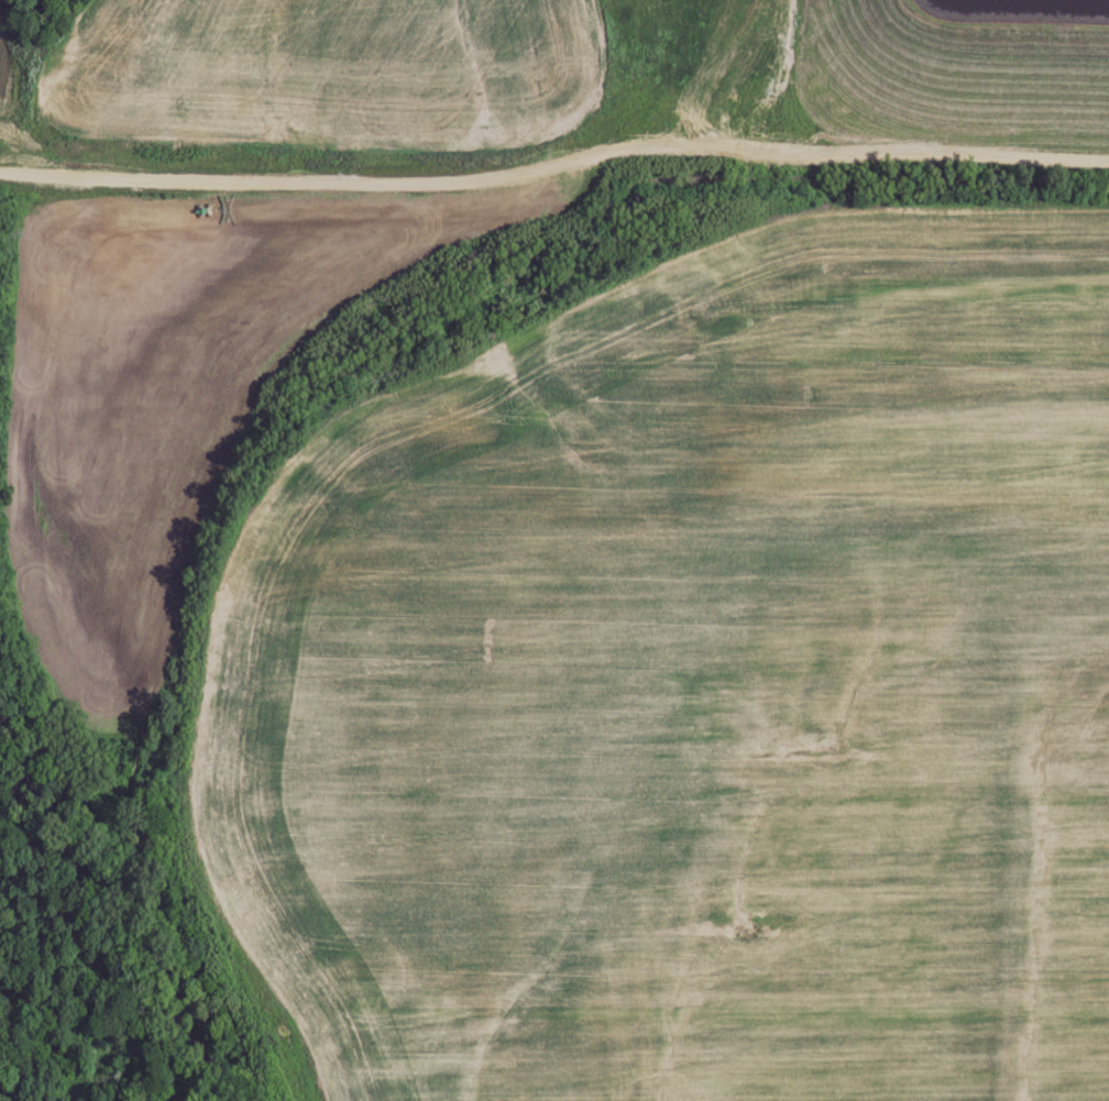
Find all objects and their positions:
road: (553, 175)

